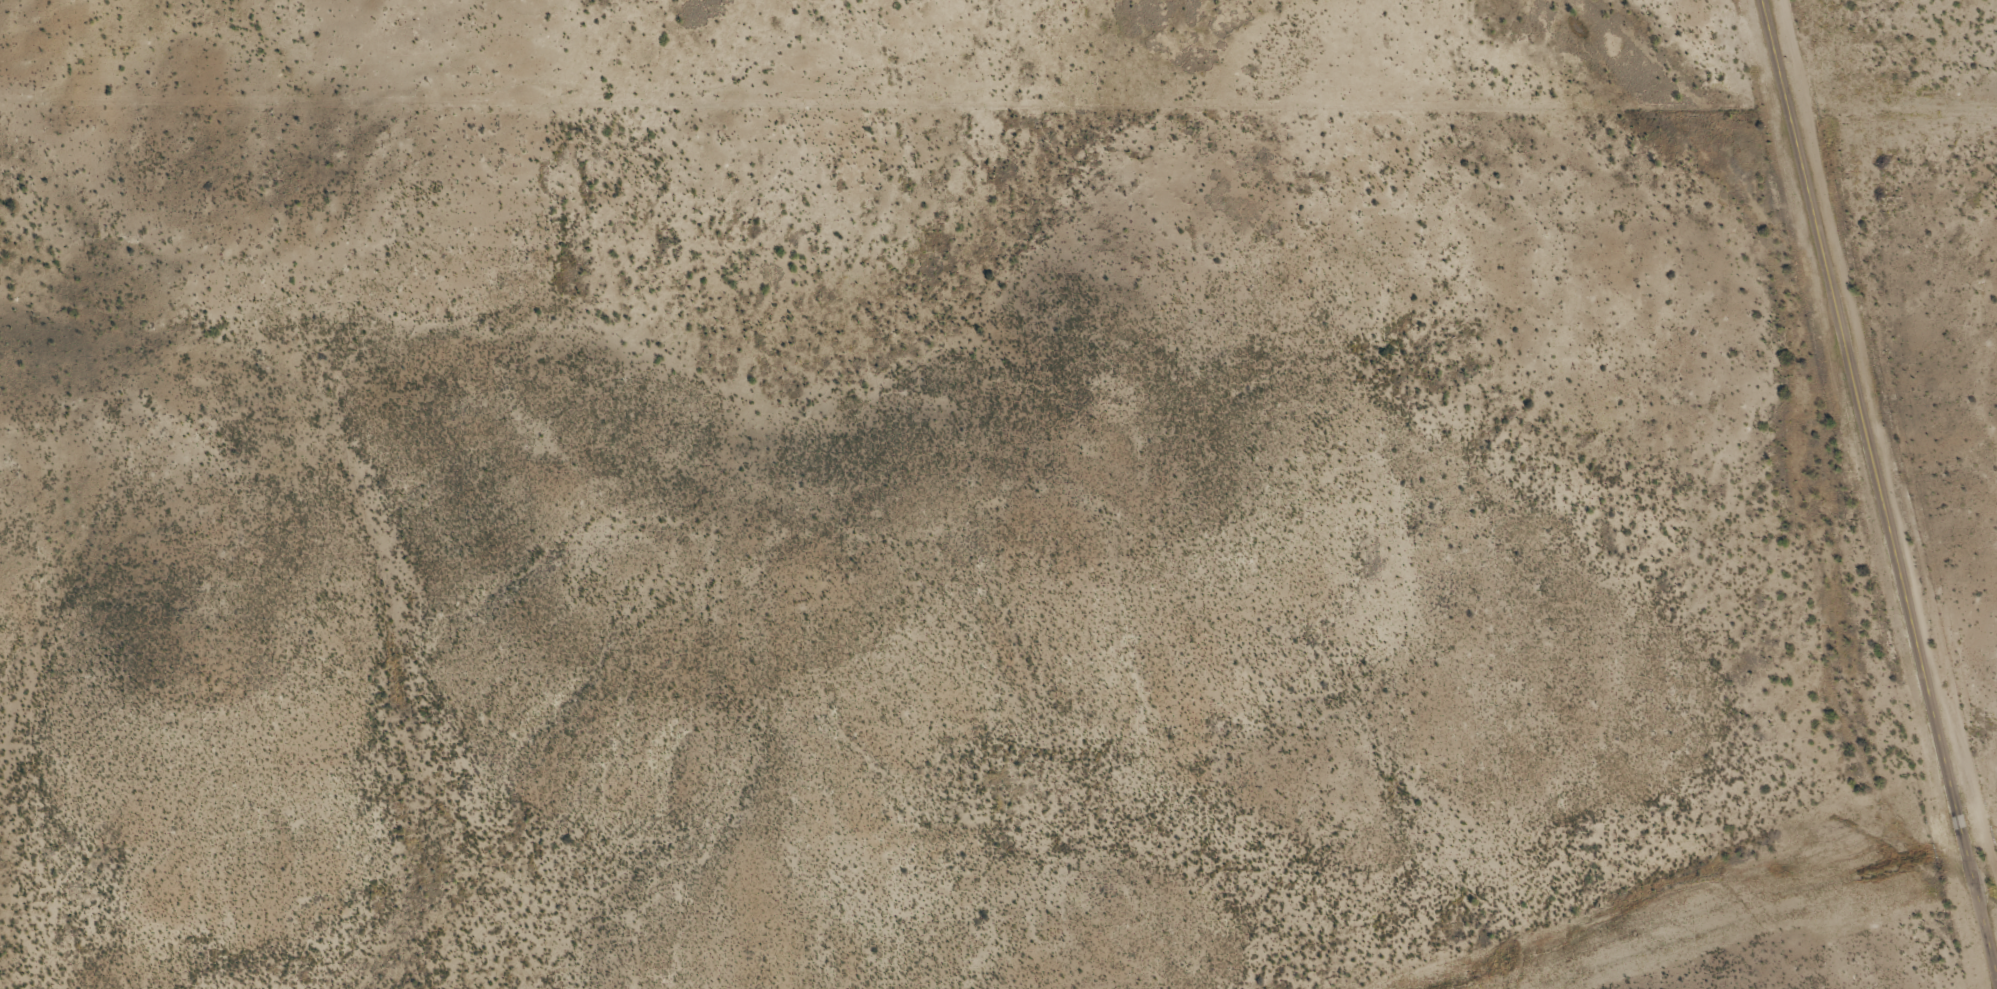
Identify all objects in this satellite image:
road: (1880, 487)

